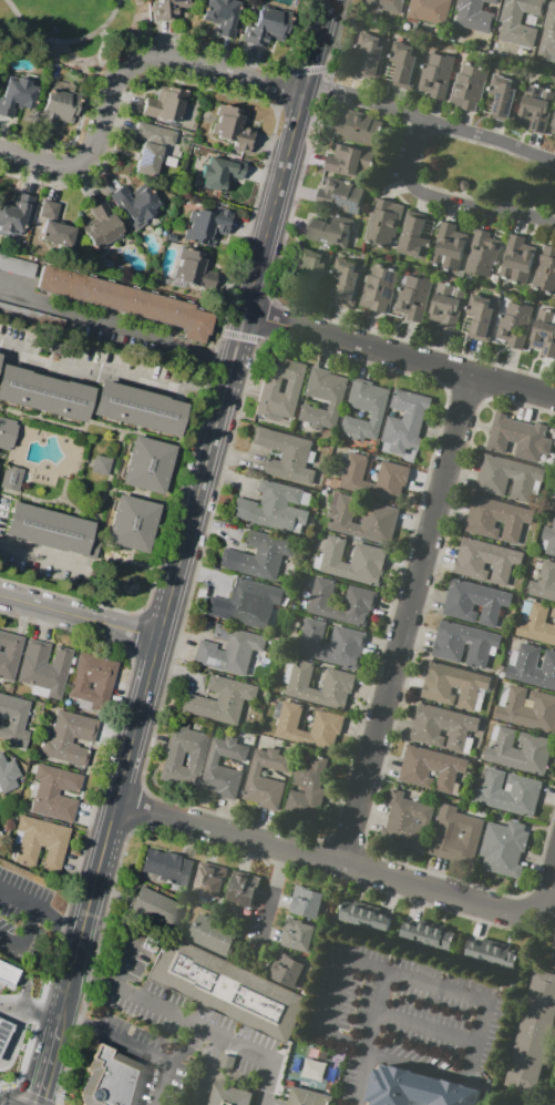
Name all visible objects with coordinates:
building: (384, 7)
building: (167, 8)
building: (428, 11)
building: (474, 14)
building: (222, 16)
building: (520, 21)
building: (267, 27)
park: (68, 28)
road: (109, 37)
building: (548, 38)
road: (339, 39)
road: (65, 40)
building: (370, 53)
building: (405, 64)
building: (436, 74)
road: (130, 76)
building: (469, 86)
building: (18, 92)
building: (504, 96)
building: (59, 104)
building: (168, 105)
building: (536, 106)
road: (431, 121)
building: (553, 126)
building: (233, 127)
building: (357, 127)
building: (151, 146)
building: (346, 162)
building: (220, 174)
building: (347, 195)
road: (446, 199)
building: (135, 202)
building: (14, 215)
building: (383, 222)
building: (206, 225)
building: (55, 226)
building: (102, 226)
building: (329, 231)
building: (412, 236)
building: (448, 247)
building: (481, 254)
building: (516, 259)
building: (17, 266)
building: (312, 268)
building: (194, 269)
building: (545, 272)
building: (347, 279)
building: (378, 288)
building: (413, 298)
building: (127, 300)
building: (446, 306)
building: (483, 315)
building: (31, 318)
road: (244, 319)
building: (513, 324)
road: (116, 327)
building: (544, 332)
road: (400, 352)
building: (0, 356)
road: (112, 376)
building: (270, 385)
building: (45, 392)
building: (323, 399)
building: (140, 408)
building: (366, 409)
building: (405, 421)
building: (7, 432)
building: (518, 438)
building: (285, 456)
building: (101, 464)
building: (148, 465)
building: (392, 473)
building: (10, 477)
building: (508, 477)
building: (552, 504)
building: (274, 508)
building: (496, 519)
building: (362, 520)
building: (132, 523)
building: (48, 529)
building: (548, 539)
road: (41, 553)
building: (259, 555)
building: (486, 561)
building: (353, 562)
building: (544, 583)
building: (474, 602)
building: (245, 603)
building: (341, 603)
building: (553, 613)
road: (81, 616)
road: (408, 617)
building: (537, 625)
building: (331, 644)
building: (464, 644)
building: (229, 649)
building: (9, 655)
building: (532, 666)
building: (44, 668)
building: (338, 681)
building: (91, 682)
building: (454, 686)
building: (219, 700)
building: (526, 708)
building: (13, 722)
building: (326, 722)
building: (443, 728)
building: (69, 737)
building: (520, 750)
building: (172, 759)
building: (224, 767)
building: (431, 768)
building: (8, 774)
building: (266, 779)
building: (309, 788)
building: (54, 792)
building: (508, 792)
building: (407, 822)
building: (455, 835)
road: (110, 837)
building: (41, 842)
building: (503, 848)
road: (327, 858)
building: (166, 866)
building: (207, 882)
building: (244, 890)
road: (547, 891)
road: (269, 892)
building: (306, 901)
building: (154, 907)
parking lot: (20, 911)
road: (42, 911)
building: (364, 918)
road: (544, 919)
road: (25, 934)
building: (214, 935)
building: (298, 935)
building: (426, 935)
building: (491, 954)
road: (125, 961)
building: (288, 970)
building: (7, 973)
road: (405, 978)
road: (24, 980)
parking lot: (0, 985)
building: (226, 988)
road: (30, 1007)
road: (192, 1023)
road: (425, 1026)
building: (3, 1031)
gas station: (3, 1032)
building: (532, 1036)
road: (134, 1044)
road: (188, 1048)
road: (45, 1070)
road: (209, 1070)
road: (362, 1077)
building: (112, 1078)
building: (418, 1088)
building: (229, 1096)
building: (307, 1097)
building: (553, 1099)

